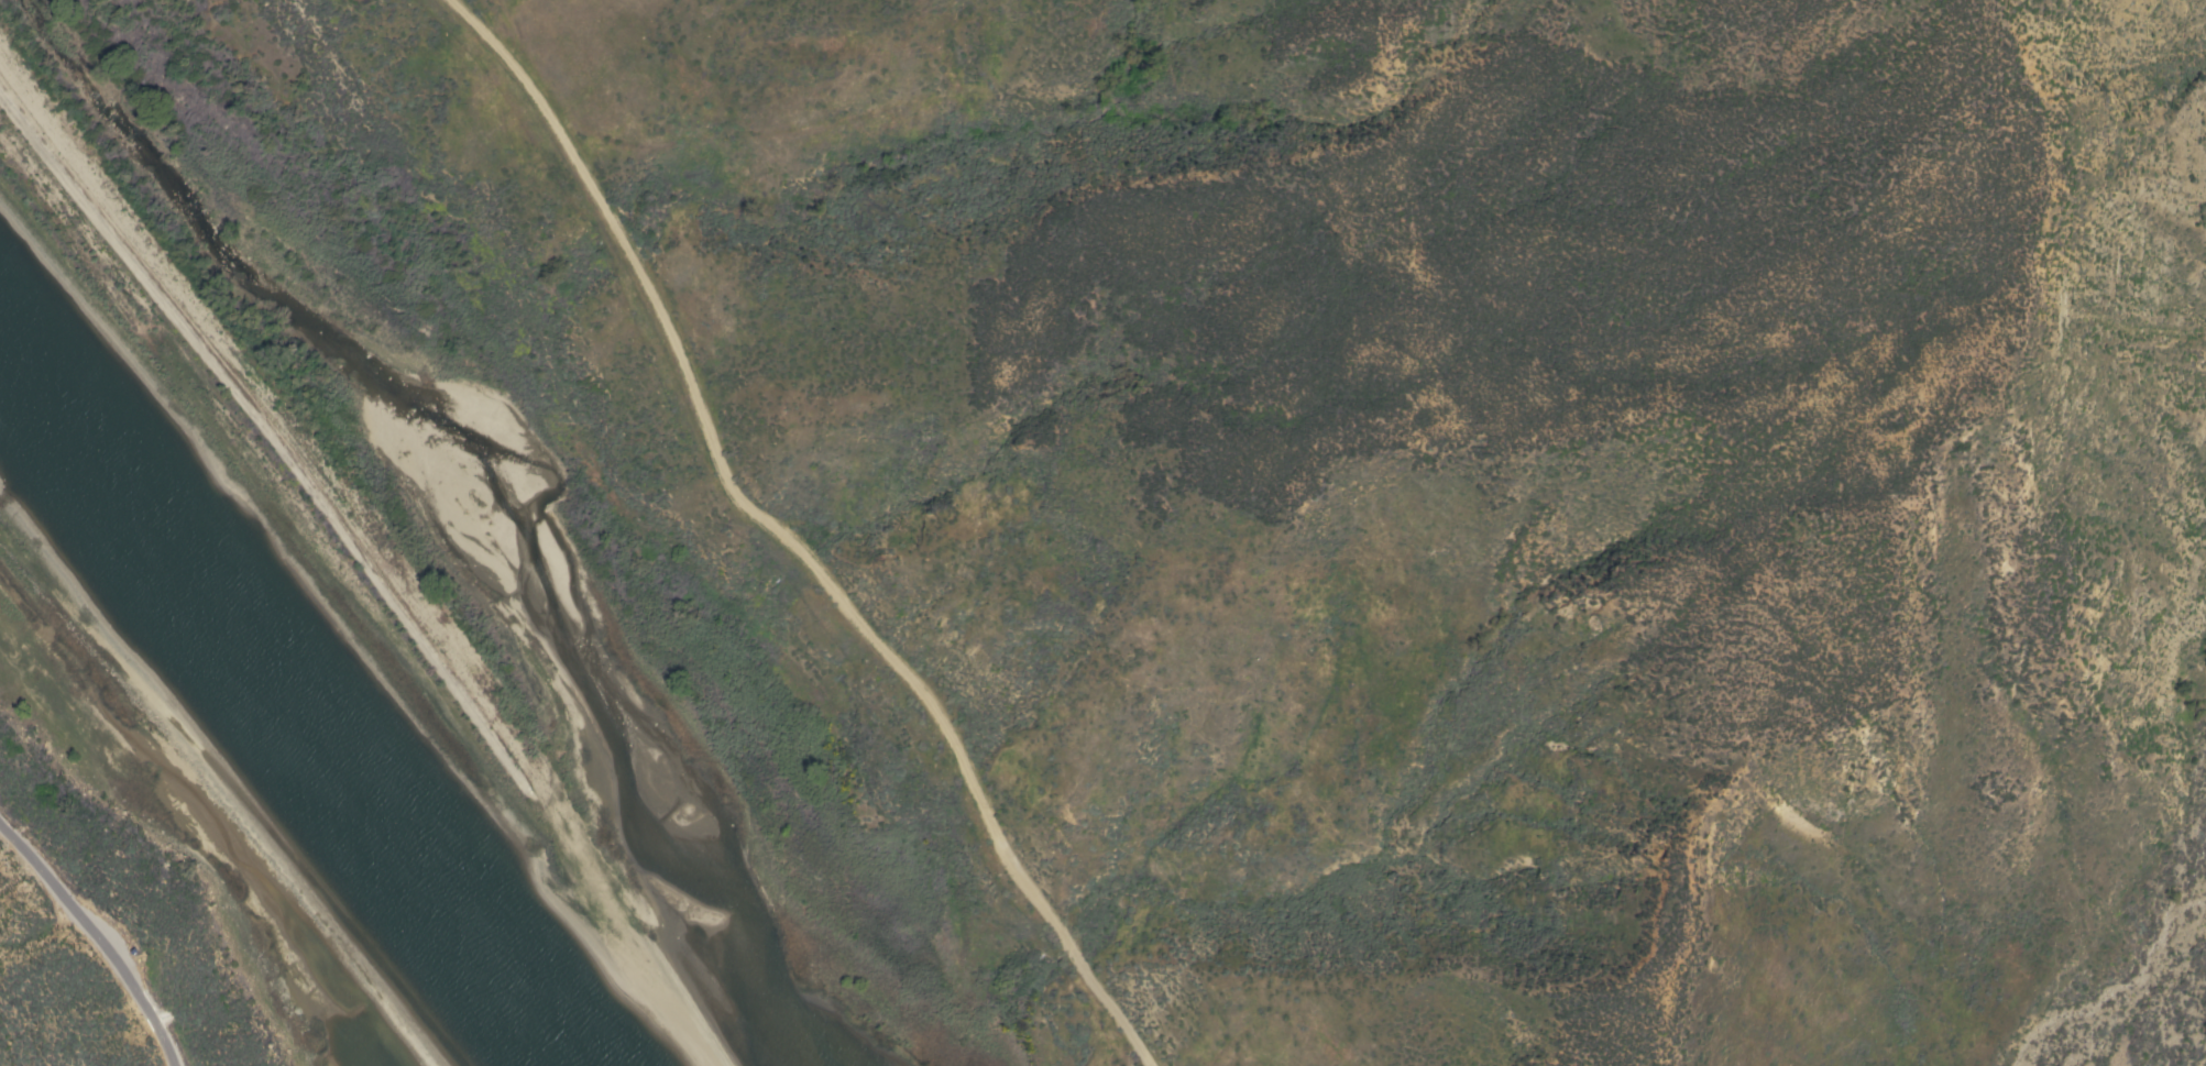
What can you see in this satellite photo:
road: (781, 540)
road: (95, 939)

